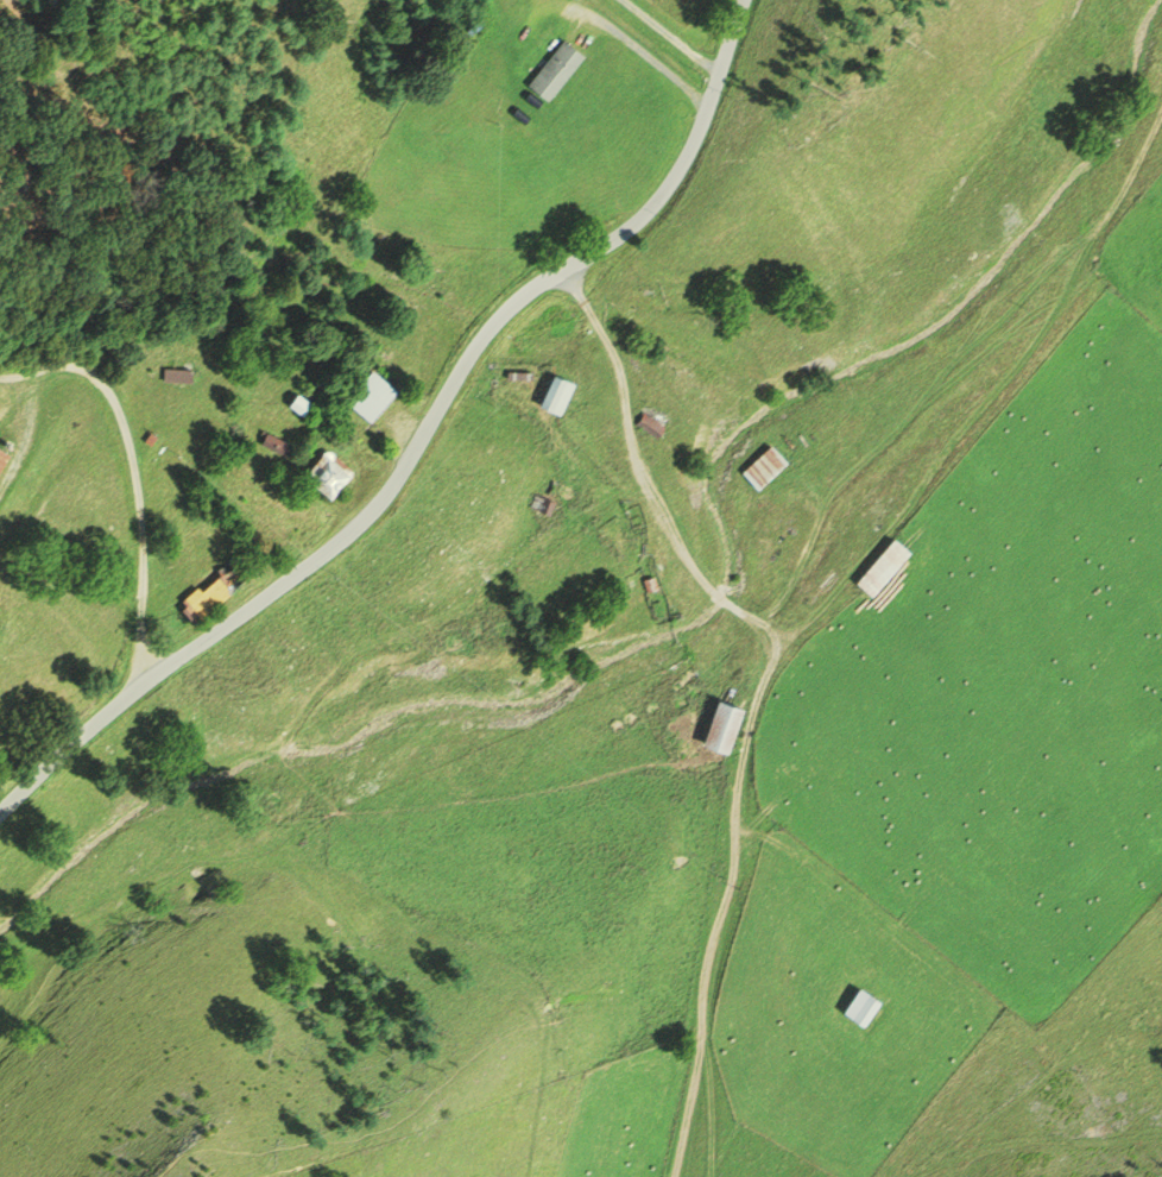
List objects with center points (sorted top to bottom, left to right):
road: (670, 36)
road: (636, 50)
building: (560, 70)
road: (681, 152)
building: (178, 377)
road: (19, 383)
building: (560, 395)
building: (372, 396)
building: (302, 405)
road: (984, 407)
building: (659, 417)
building: (330, 423)
road: (122, 432)
building: (280, 445)
building: (4, 458)
building: (2, 467)
building: (769, 468)
building: (330, 476)
building: (544, 505)
road: (304, 555)
building: (885, 568)
road: (753, 694)
building: (720, 726)
building: (863, 1006)

